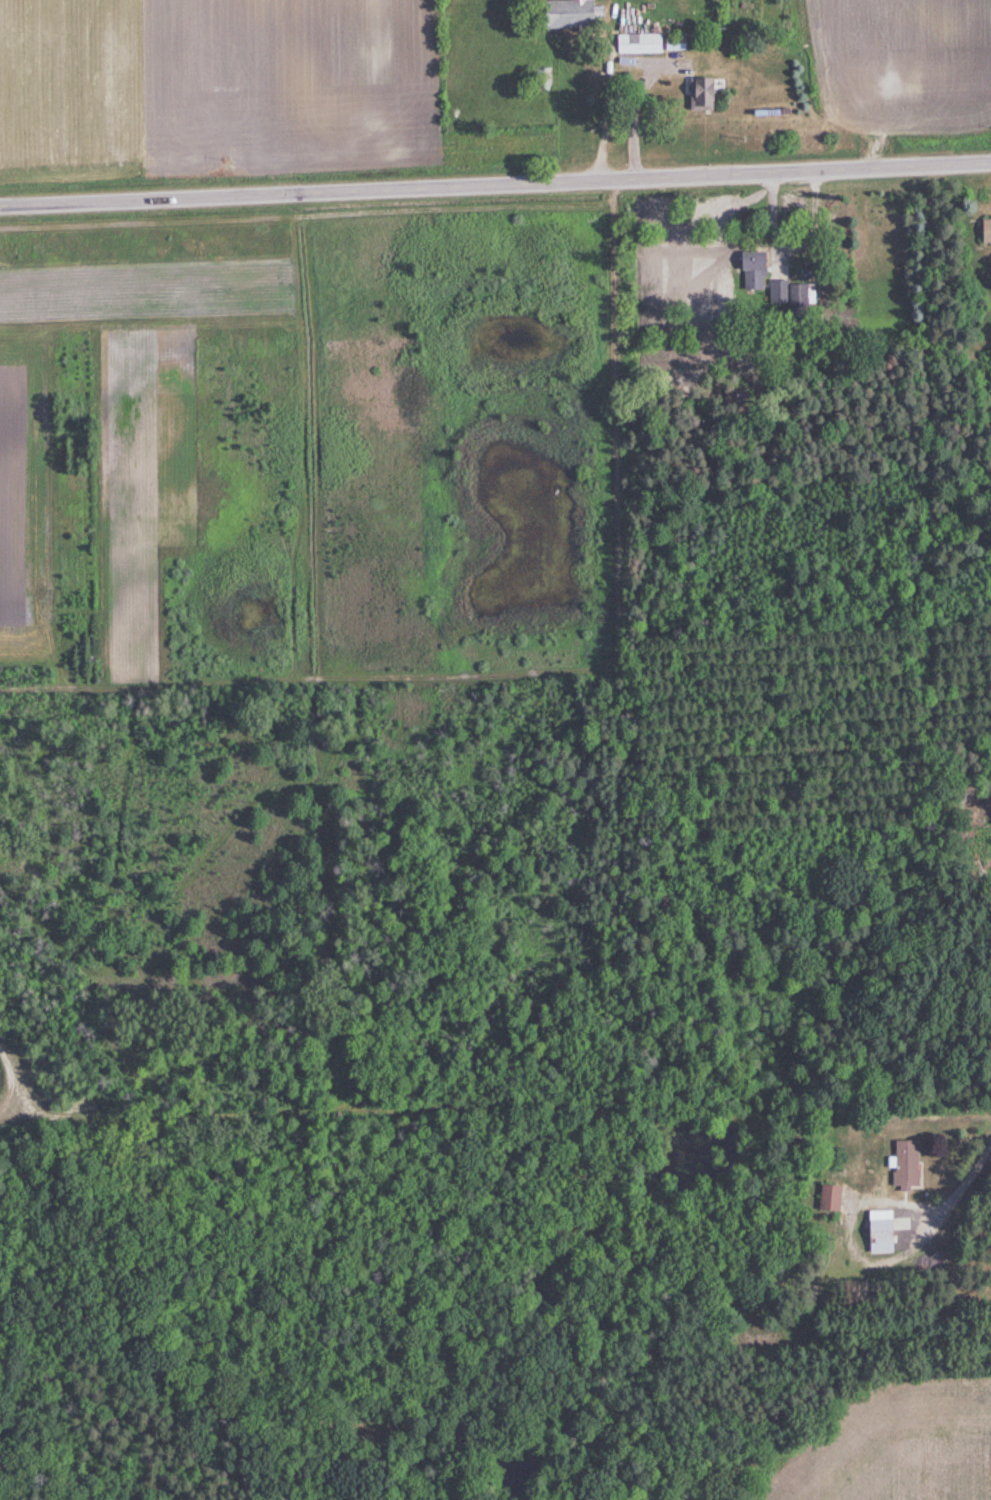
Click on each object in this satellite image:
building: (564, 14)
building: (637, 44)
building: (673, 44)
building: (700, 95)
road: (620, 119)
road: (495, 185)
road: (775, 223)
building: (985, 231)
building: (751, 271)
building: (777, 293)
building: (904, 1166)
road: (963, 1169)
building: (828, 1200)
building: (879, 1232)

